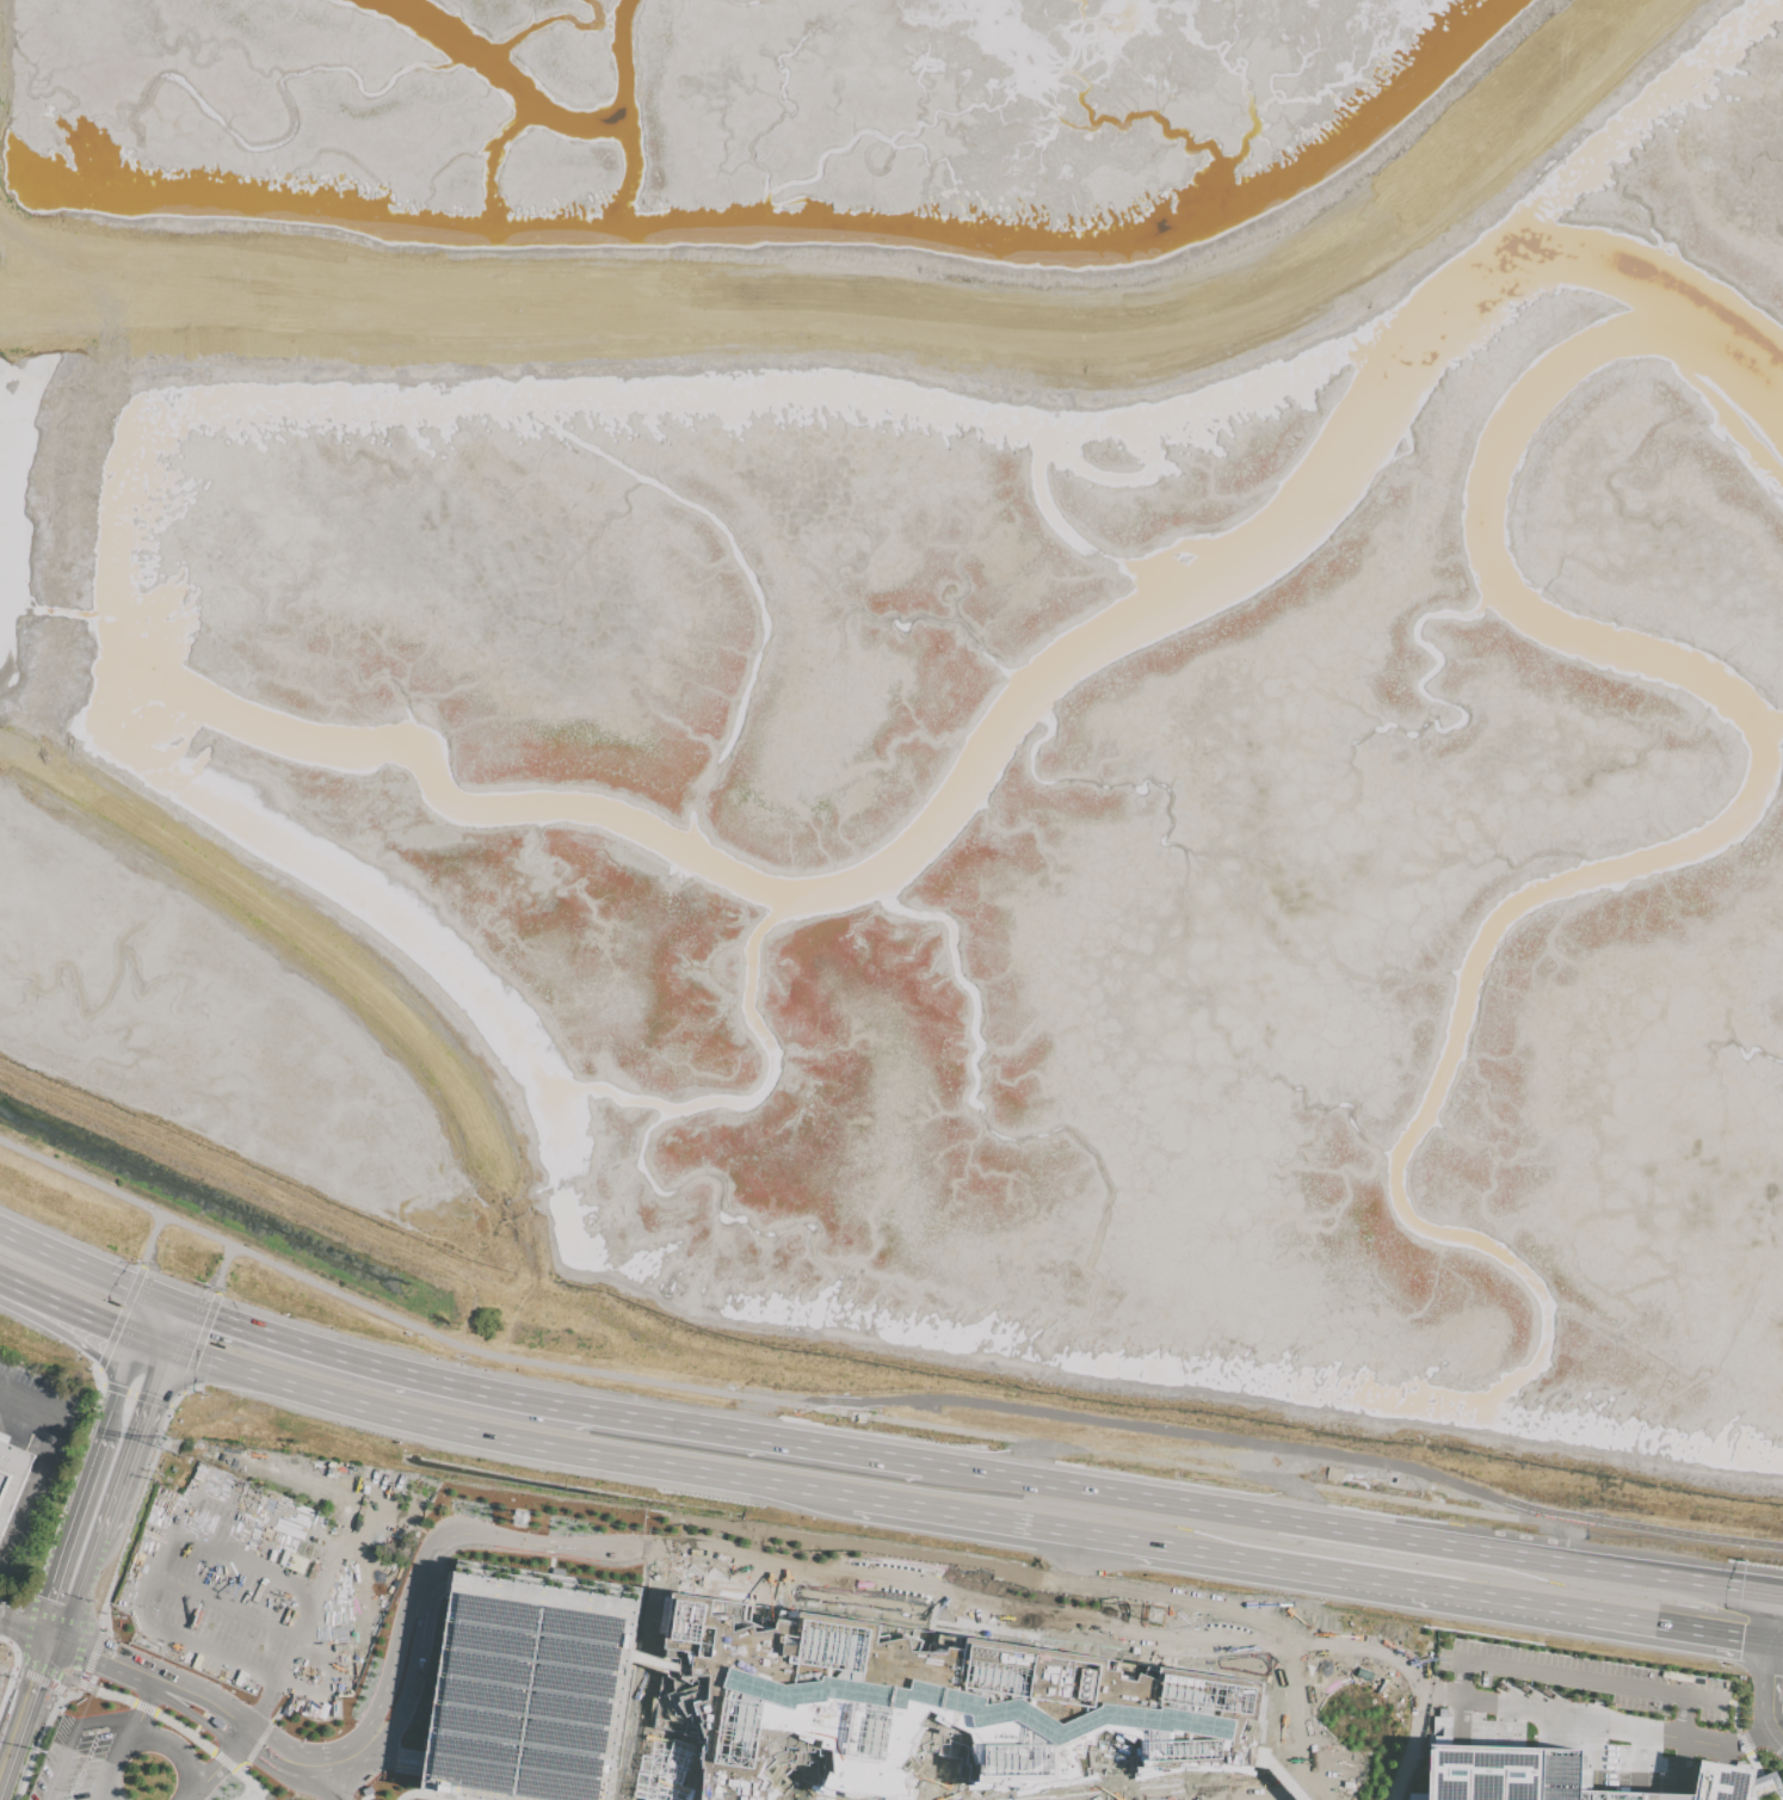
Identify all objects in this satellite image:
road: (835, 258)
road: (739, 347)
road: (332, 958)
road: (150, 1240)
road: (88, 1269)
road: (222, 1269)
road: (147, 1281)
road: (197, 1300)
road: (68, 1308)
road: (118, 1317)
traffic signals: (212, 1318)
traffic signals: (110, 1326)
road: (198, 1342)
road: (868, 1364)
road: (99, 1376)
road: (136, 1395)
road: (874, 1400)
traffic signals: (146, 1404)
road: (544, 1405)
road: (138, 1420)
road: (489, 1437)
power tower: (171, 1447)
parking lot: (36, 1455)
road: (93, 1465)
road: (45, 1469)
building: (11, 1475)
road: (1350, 1479)
road: (357, 1497)
road: (246, 1506)
parking lot: (427, 1506)
street lamp: (189, 1515)
power tower: (520, 1521)
road: (1349, 1534)
road: (1096, 1536)
road: (117, 1560)
road: (247, 1560)
road: (893, 1561)
parking lot: (881, 1567)
street lamp: (315, 1571)
road: (662, 1576)
street lamp: (224, 1578)
road: (81, 1585)
road: (934, 1591)
road: (1463, 1595)
parking lot: (249, 1596)
road: (8, 1598)
traffic signals: (48, 1598)
street lamp: (394, 1598)
road: (970, 1602)
traffic signals: (1778, 1602)
road: (1781, 1602)
street lamp: (5, 1603)
road: (757, 1603)
street lamp: (150, 1607)
road: (236, 1610)
power tower: (1159, 1617)
road: (326, 1620)
parking lot: (997, 1621)
road: (13, 1622)
traffic signals: (13, 1626)
road: (17, 1627)
road: (1678, 1629)
road: (49, 1634)
road: (955, 1634)
street lamp: (384, 1636)
road: (183, 1642)
traffic signals: (1771, 1645)
road: (1777, 1645)
traffic signals: (95, 1647)
park: (1599, 1657)
road: (1125, 1659)
road: (1770, 1664)
road: (38, 1666)
road: (12, 1669)
parking lot: (2, 1672)
road: (158, 1675)
street lamp: (311, 1675)
traffic signals: (50, 1677)
road: (1571, 1677)
road: (43, 1681)
building: (530, 1683)
road: (17, 1687)
park: (1572, 1695)
building: (923, 1706)
street lamp: (164, 1707)
parking lot: (1584, 1712)
road: (1733, 1712)
park: (1727, 1713)
road: (1678, 1715)
road: (36, 1718)
road: (173, 1724)
street lamp: (352, 1724)
street lamp: (277, 1726)
road: (1778, 1731)
street lamp: (95, 1733)
road: (125, 1736)
road: (73, 1737)
road: (39, 1738)
street lamp: (212, 1740)
street lamp: (322, 1740)
road: (235, 1742)
road: (1741, 1743)
road: (1413, 1744)
power tower: (47, 1747)
street lamp: (1762, 1749)
road: (174, 1751)
road: (289, 1761)
parking lot: (79, 1763)
road: (1752, 1763)
street lamp: (249, 1767)
street lamp: (382, 1773)
solar farm: (1506, 1774)
street lamp: (32, 1775)
building: (662, 1775)
park: (1260, 1777)
building: (1566, 1777)
road: (938, 1779)
road: (1272, 1779)
road: (1287, 1779)
park: (1228, 1780)
park: (1182, 1781)
park: (955, 1784)
road: (1247, 1790)
road: (246, 1793)
road: (418, 1793)
street lamp: (294, 1794)
street lamp: (354, 1794)
park: (810, 1794)
road: (1139, 1795)
road: (100, 1796)
park: (921, 1796)
street lamp: (314, 1799)

